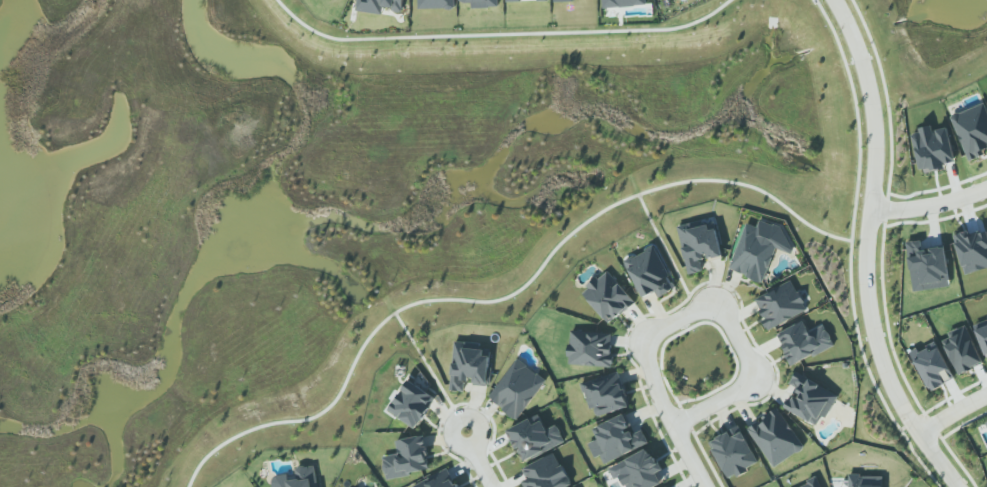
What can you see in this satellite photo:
building: (521, 0)
building: (563, 0)
building: (482, 3)
building: (622, 3)
building: (436, 4)
building: (379, 6)
road: (501, 35)
building: (933, 148)
road: (930, 204)
building: (699, 245)
building: (759, 249)
road: (851, 250)
building: (972, 250)
road: (668, 251)
road: (866, 251)
building: (649, 273)
road: (506, 296)
building: (608, 297)
road: (716, 305)
building: (780, 305)
road: (716, 326)
building: (982, 333)
building: (804, 342)
building: (590, 349)
building: (469, 365)
building: (932, 366)
road: (431, 372)
building: (516, 389)
building: (605, 394)
building: (810, 399)
building: (411, 404)
road: (952, 409)
road: (682, 411)
building: (986, 421)
road: (907, 426)
building: (775, 437)
building: (534, 438)
building: (616, 439)
building: (733, 452)
road: (688, 456)
building: (407, 458)
road: (476, 460)
building: (546, 473)
building: (297, 478)
building: (438, 480)
building: (865, 481)
building: (812, 484)
building: (668, 486)

